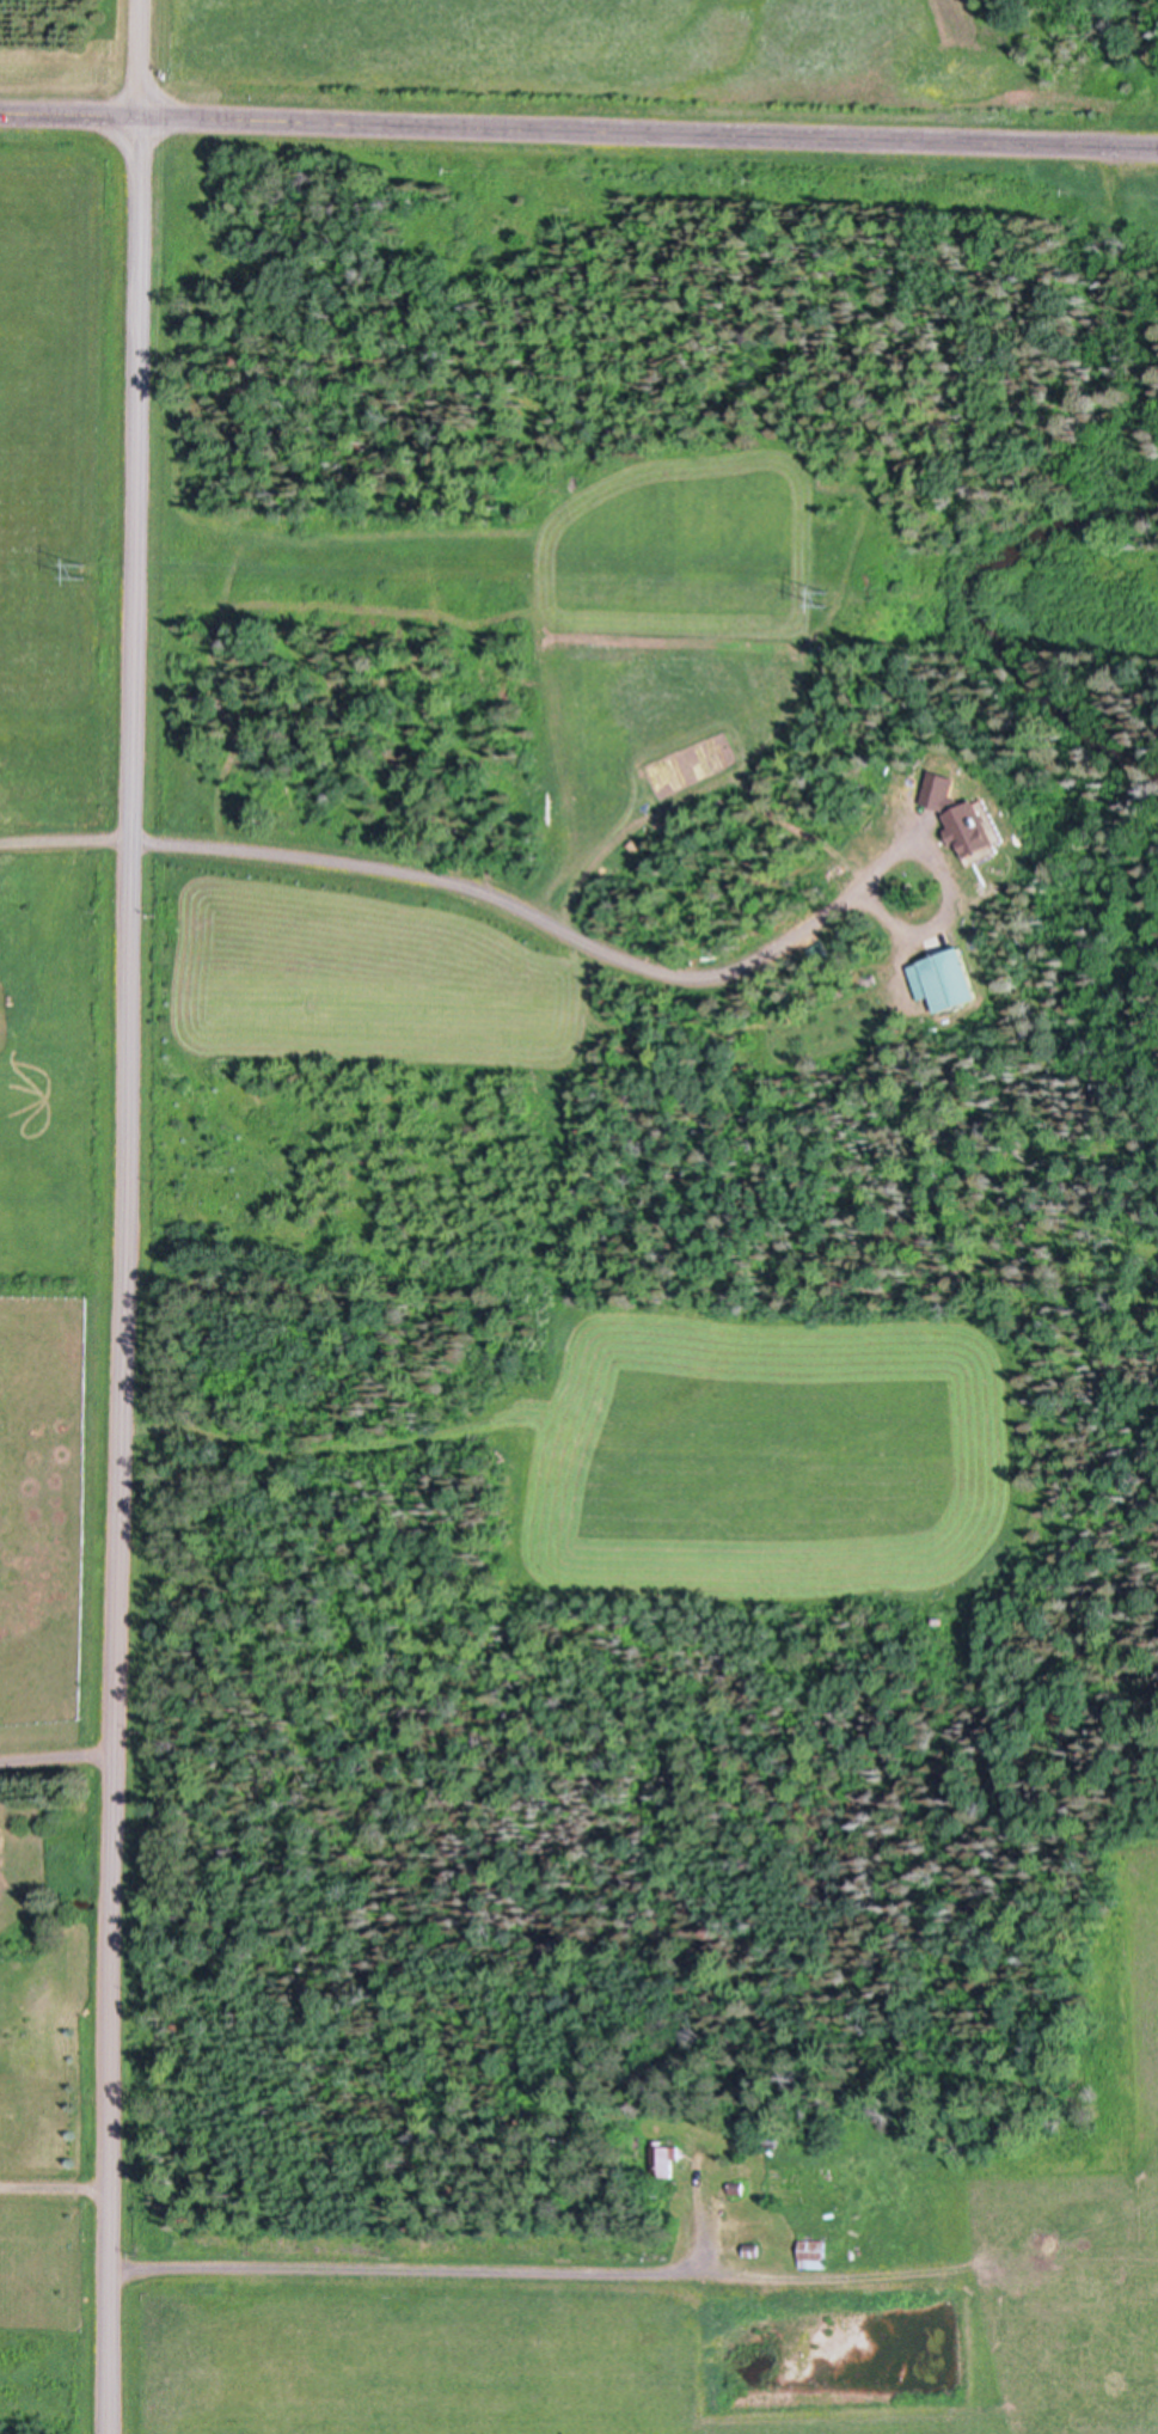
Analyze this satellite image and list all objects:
road: (139, 60)
road: (578, 133)
power tower: (99, 571)
power tower: (821, 600)
river: (975, 624)
building: (946, 793)
building: (982, 826)
road: (901, 850)
road: (451, 882)
road: (927, 929)
building: (951, 980)
road: (125, 1277)
road: (57, 1757)
building: (774, 2136)
building: (669, 2159)
building: (740, 2184)
road: (55, 2190)
building: (739, 2194)
building: (754, 2246)
building: (815, 2250)
road: (425, 2269)

